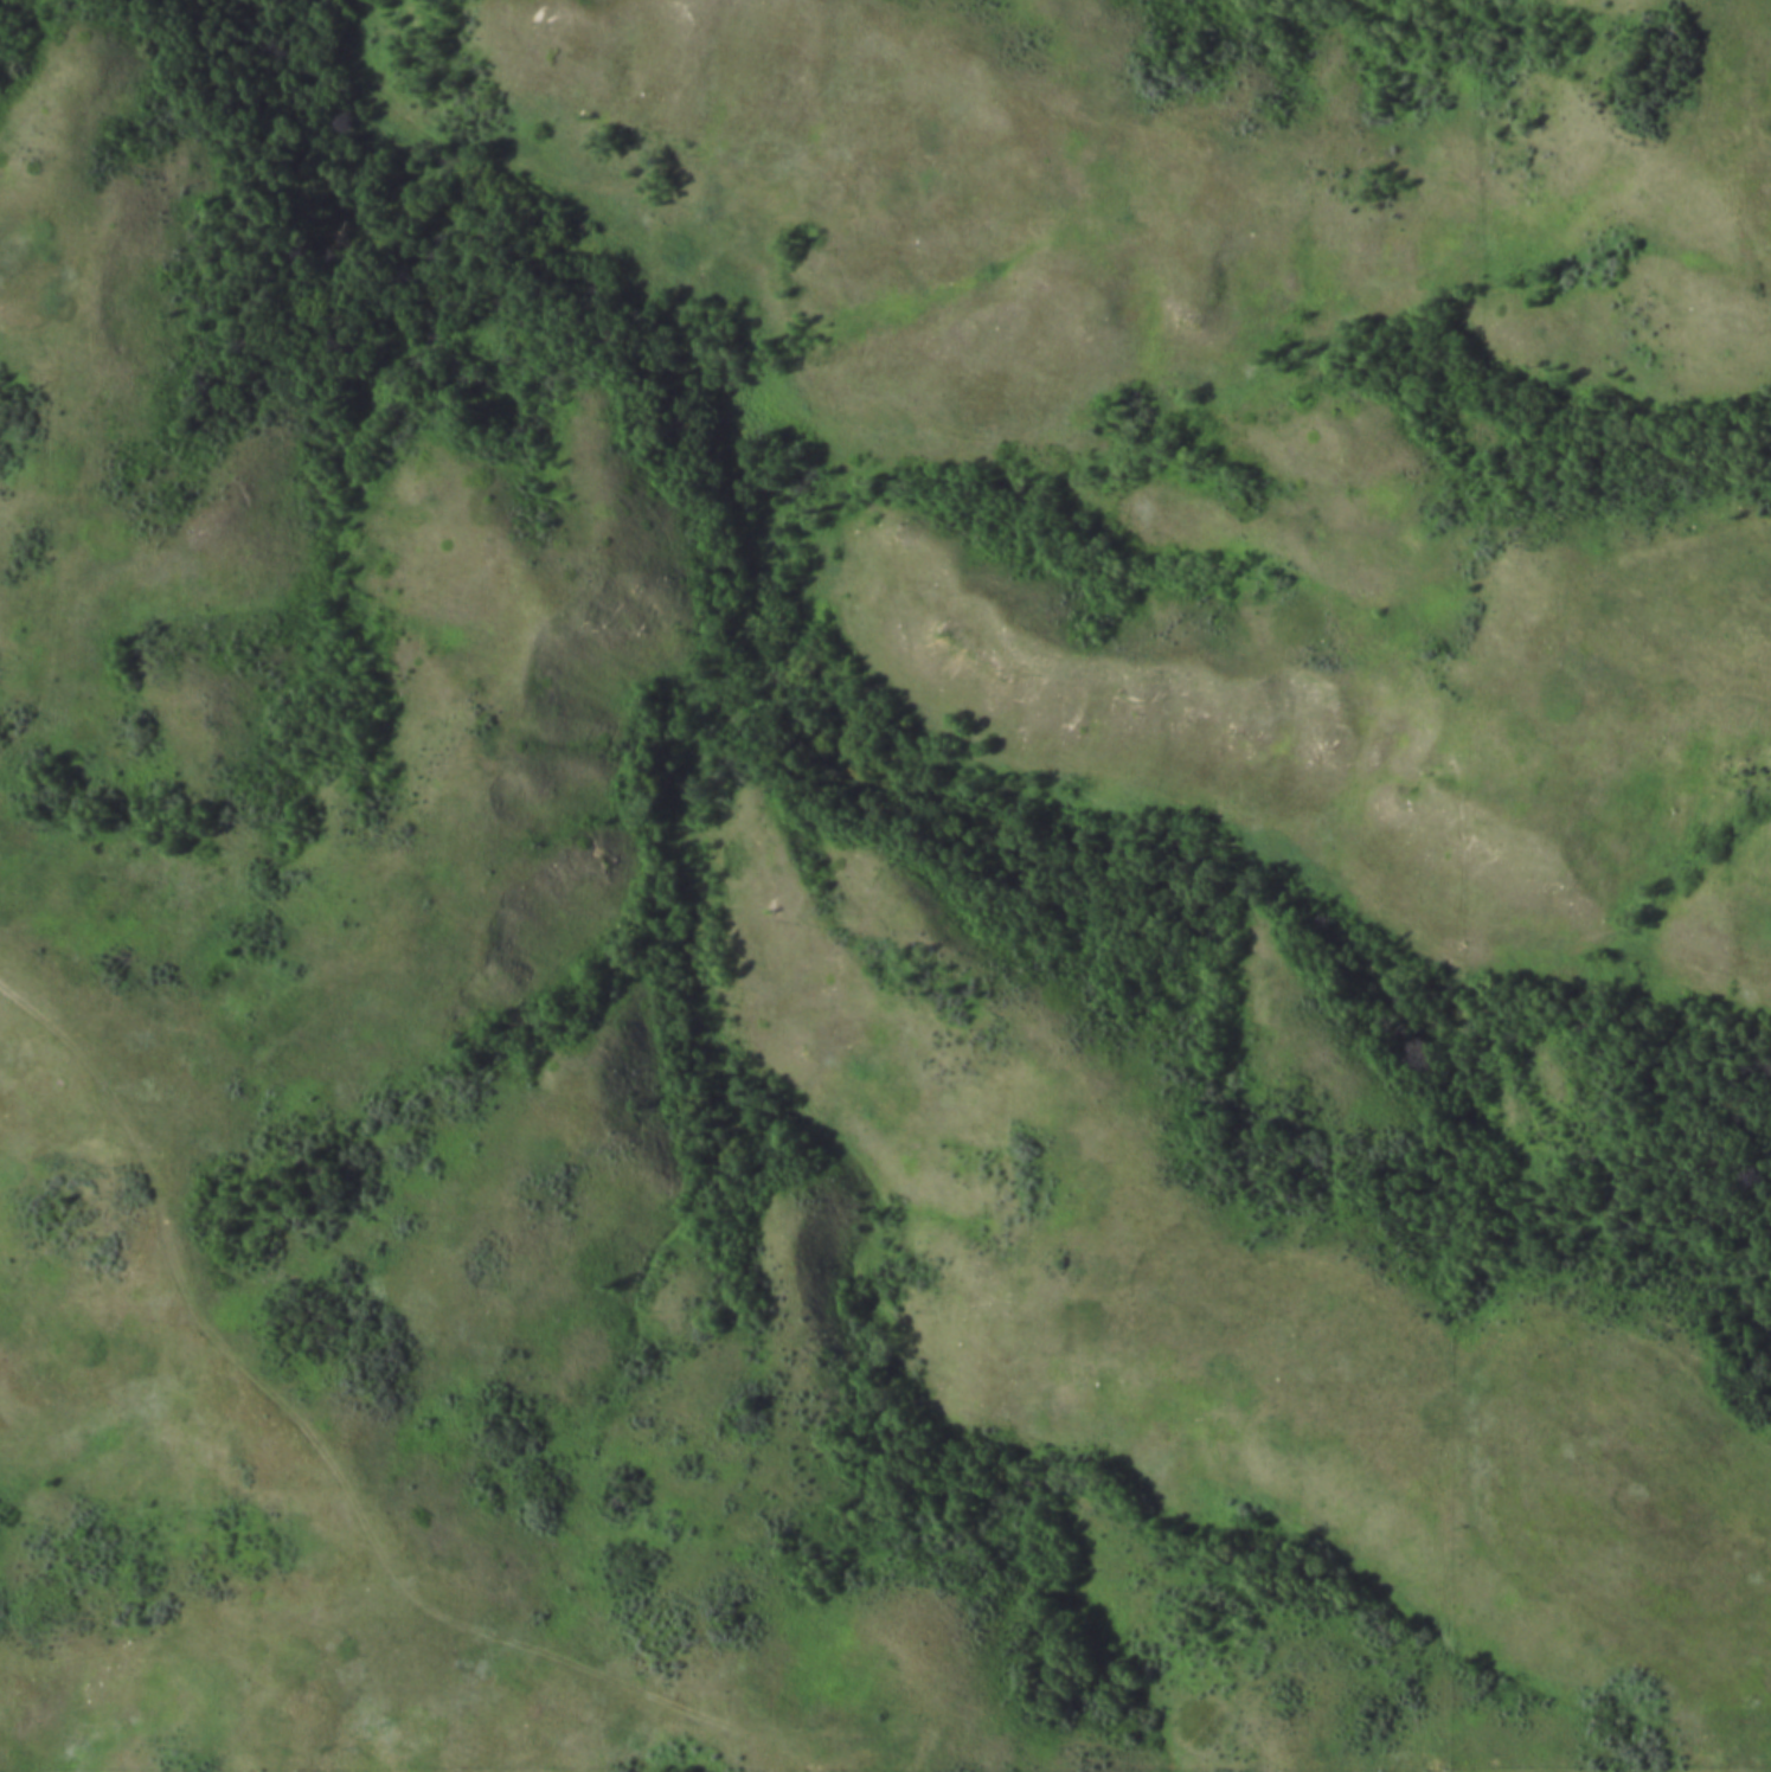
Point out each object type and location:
road: (338, 1459)

